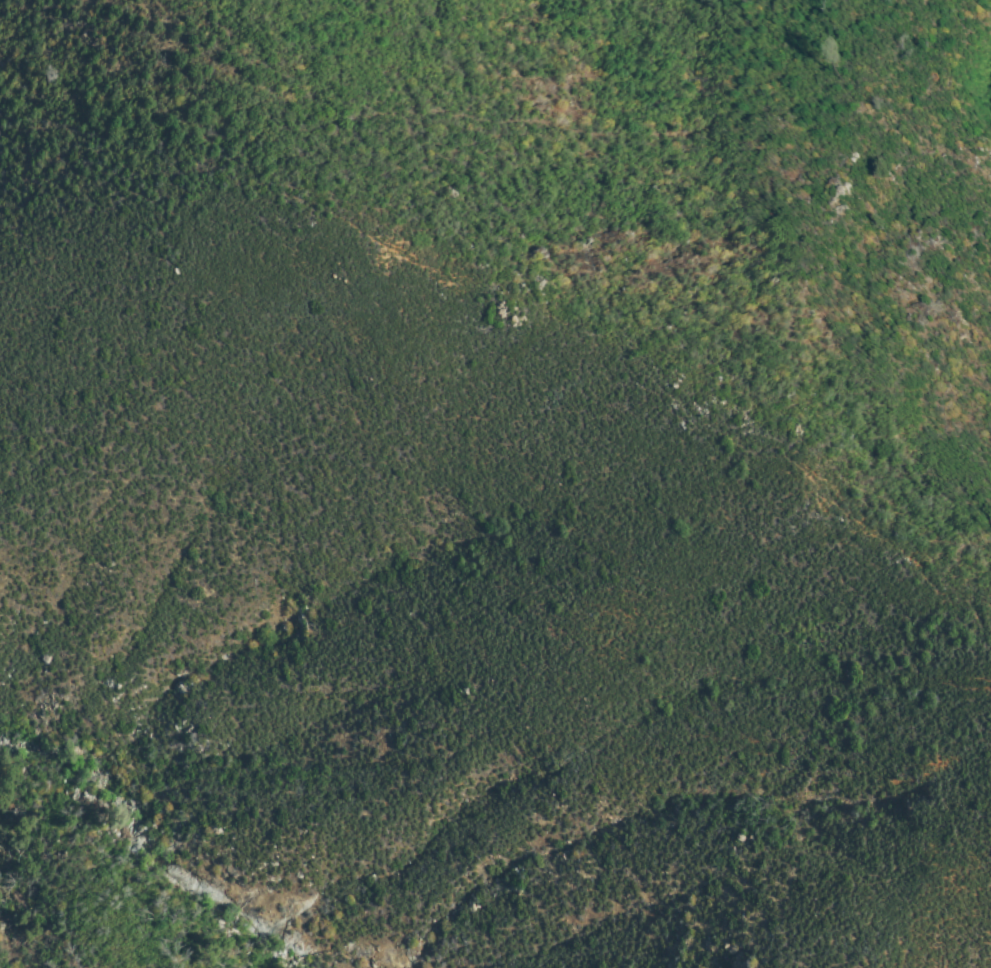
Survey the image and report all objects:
road: (361, 239)

